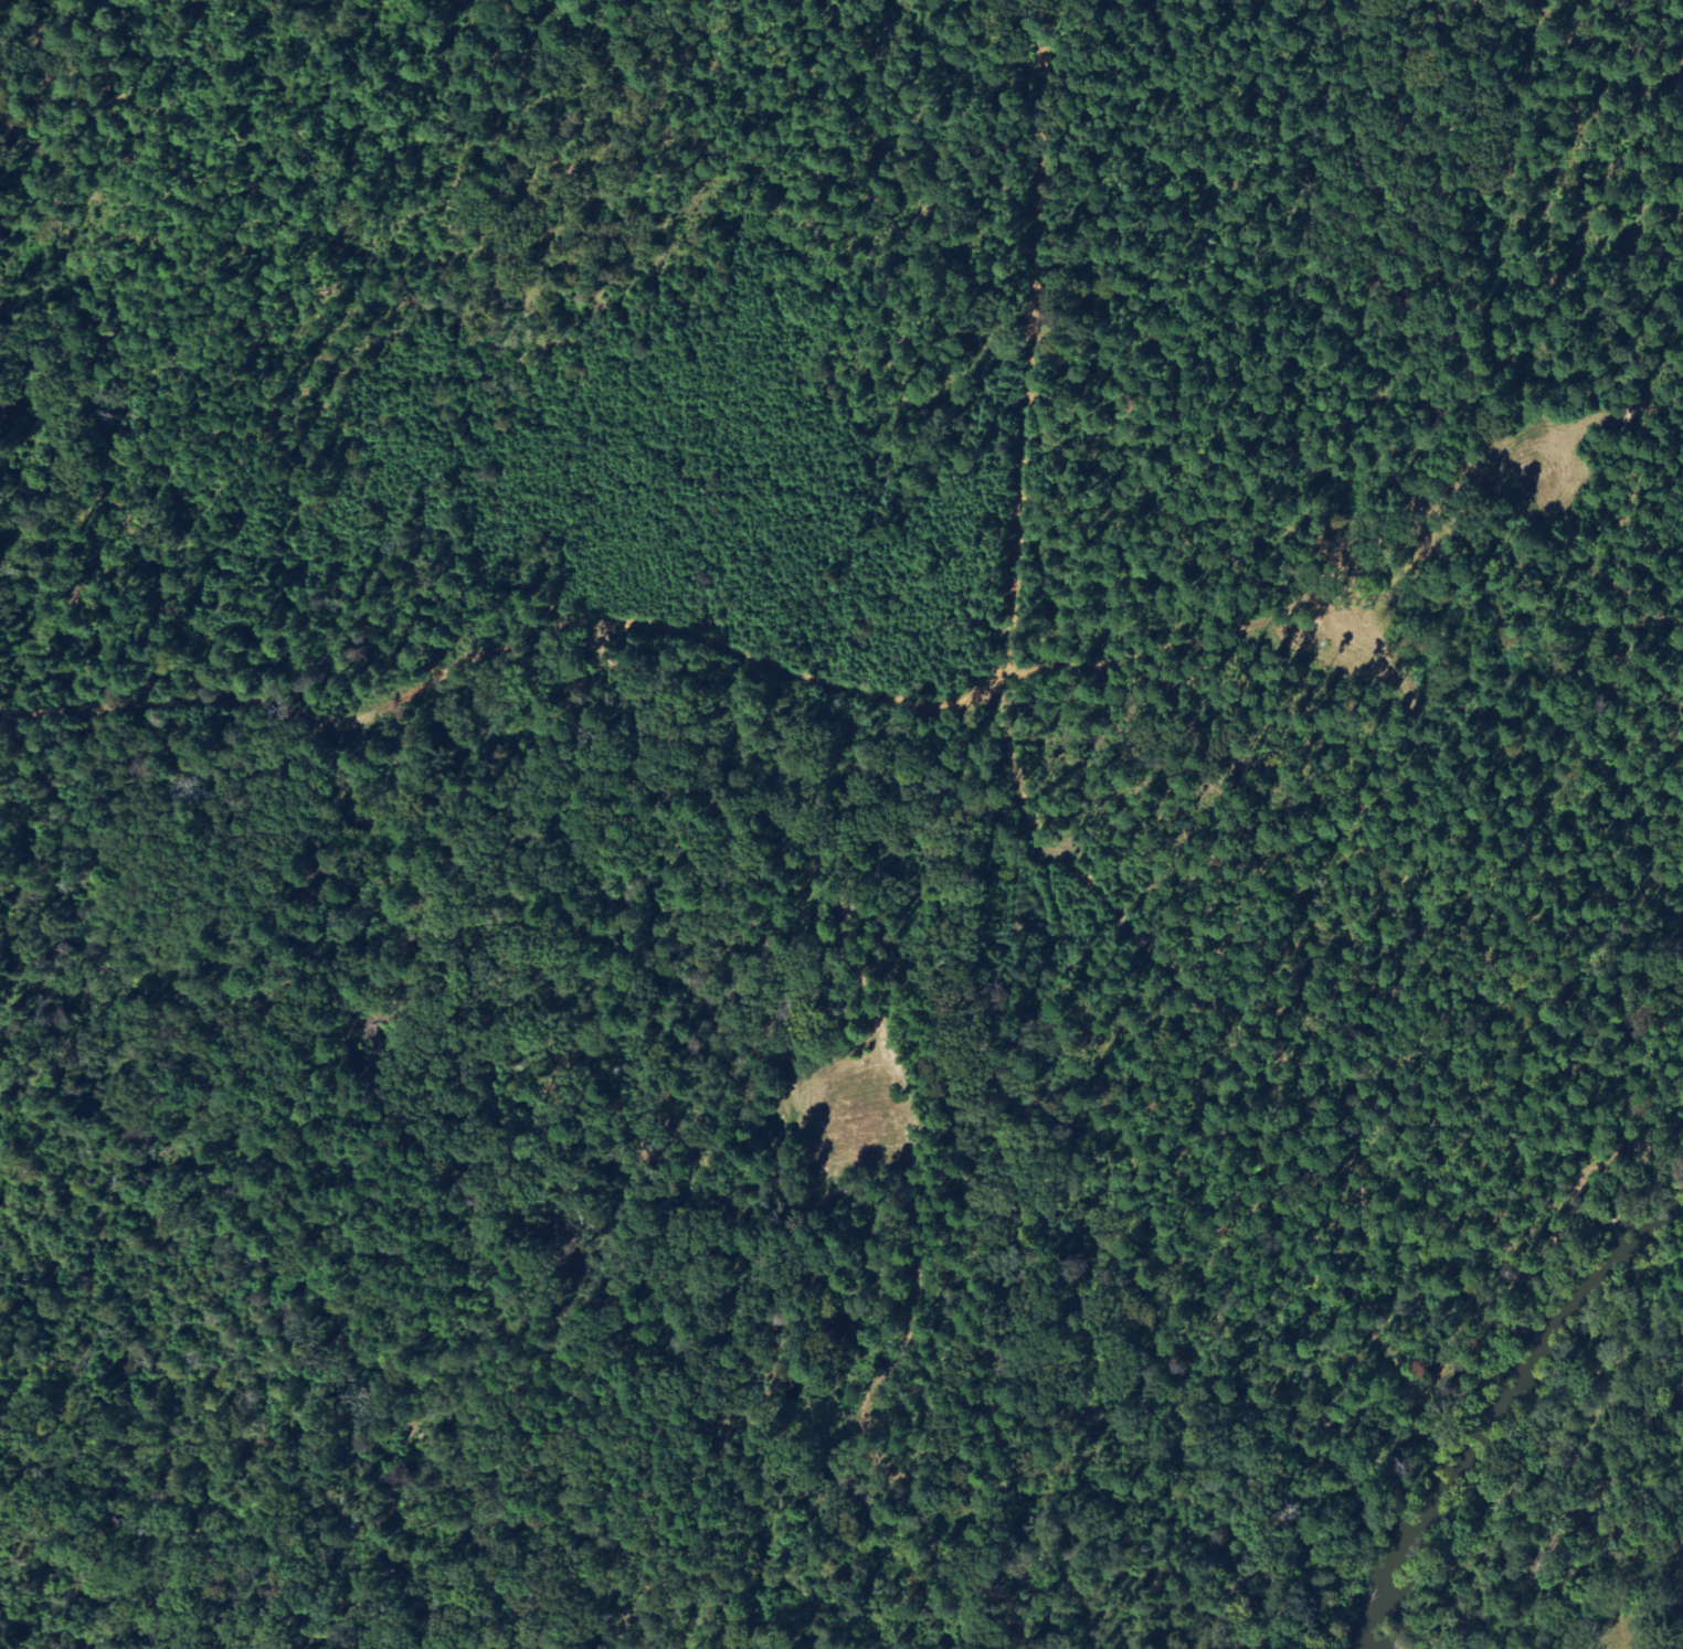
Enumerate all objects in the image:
river: (1495, 1406)

